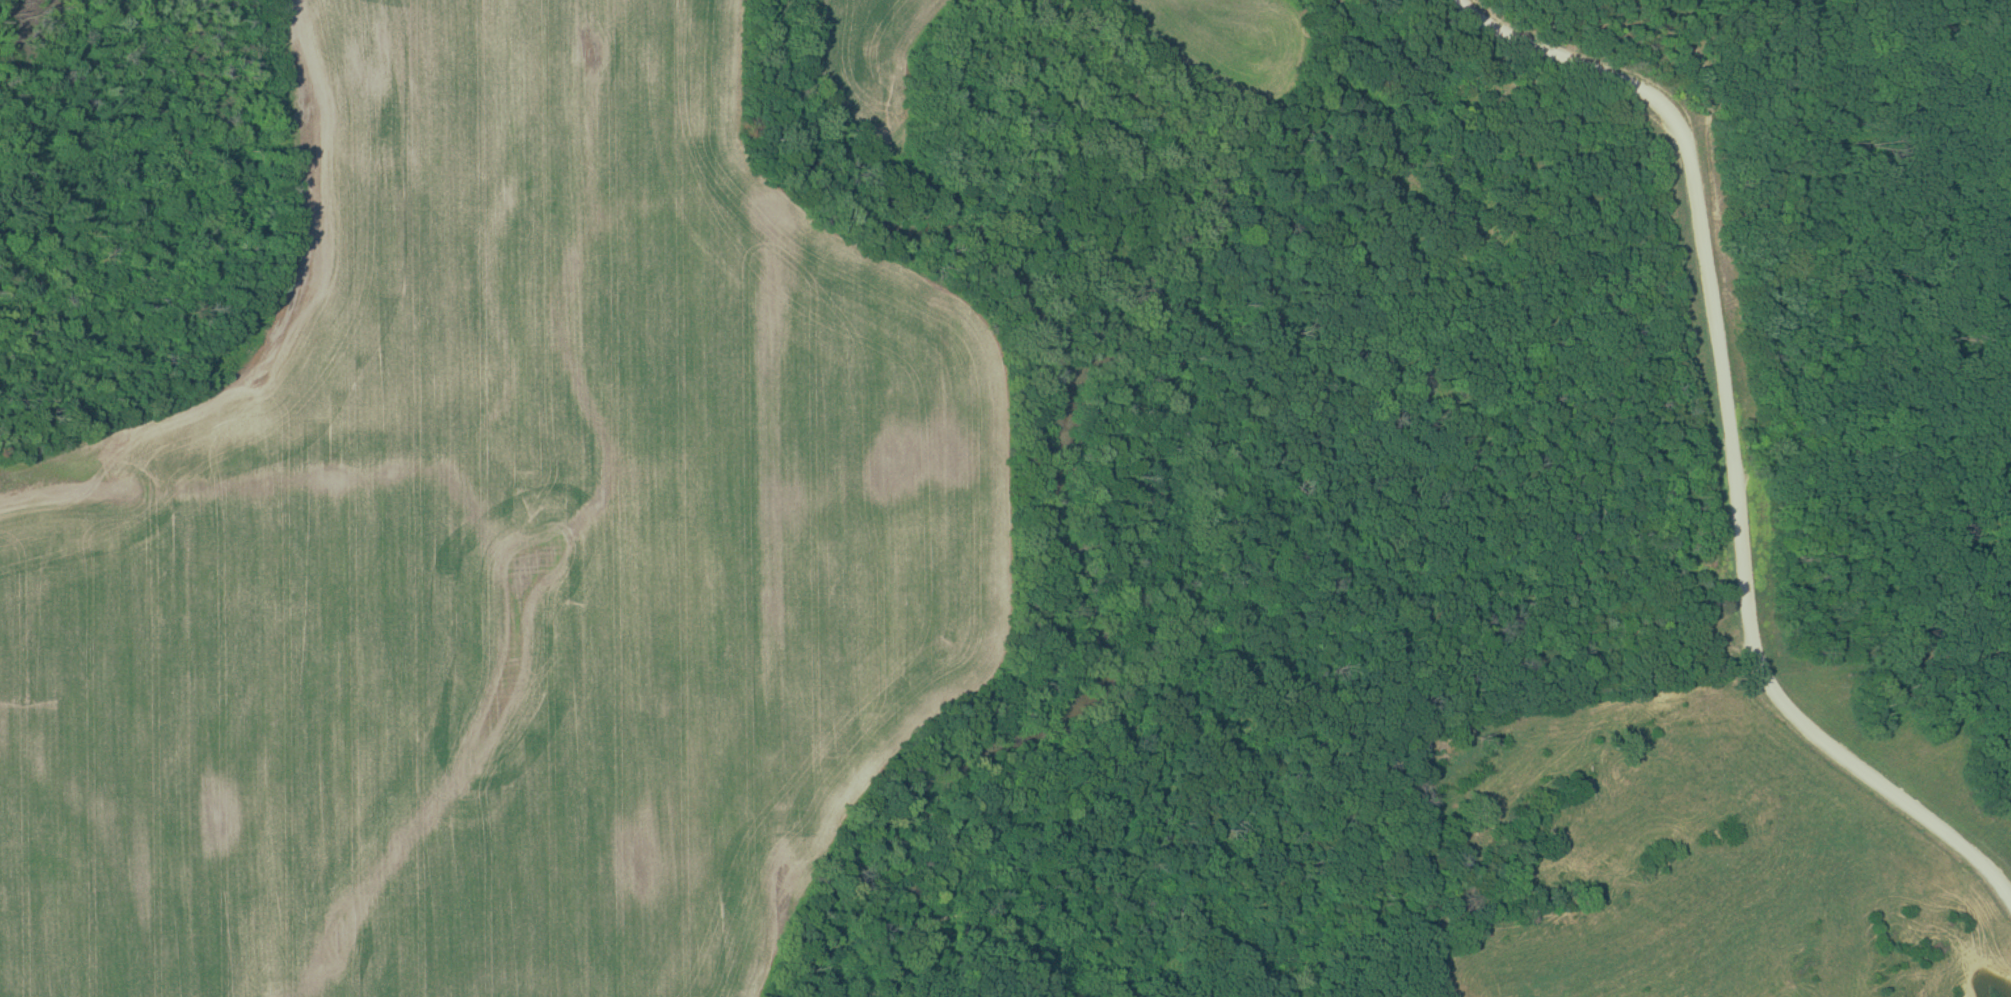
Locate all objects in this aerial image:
road: (1720, 445)

